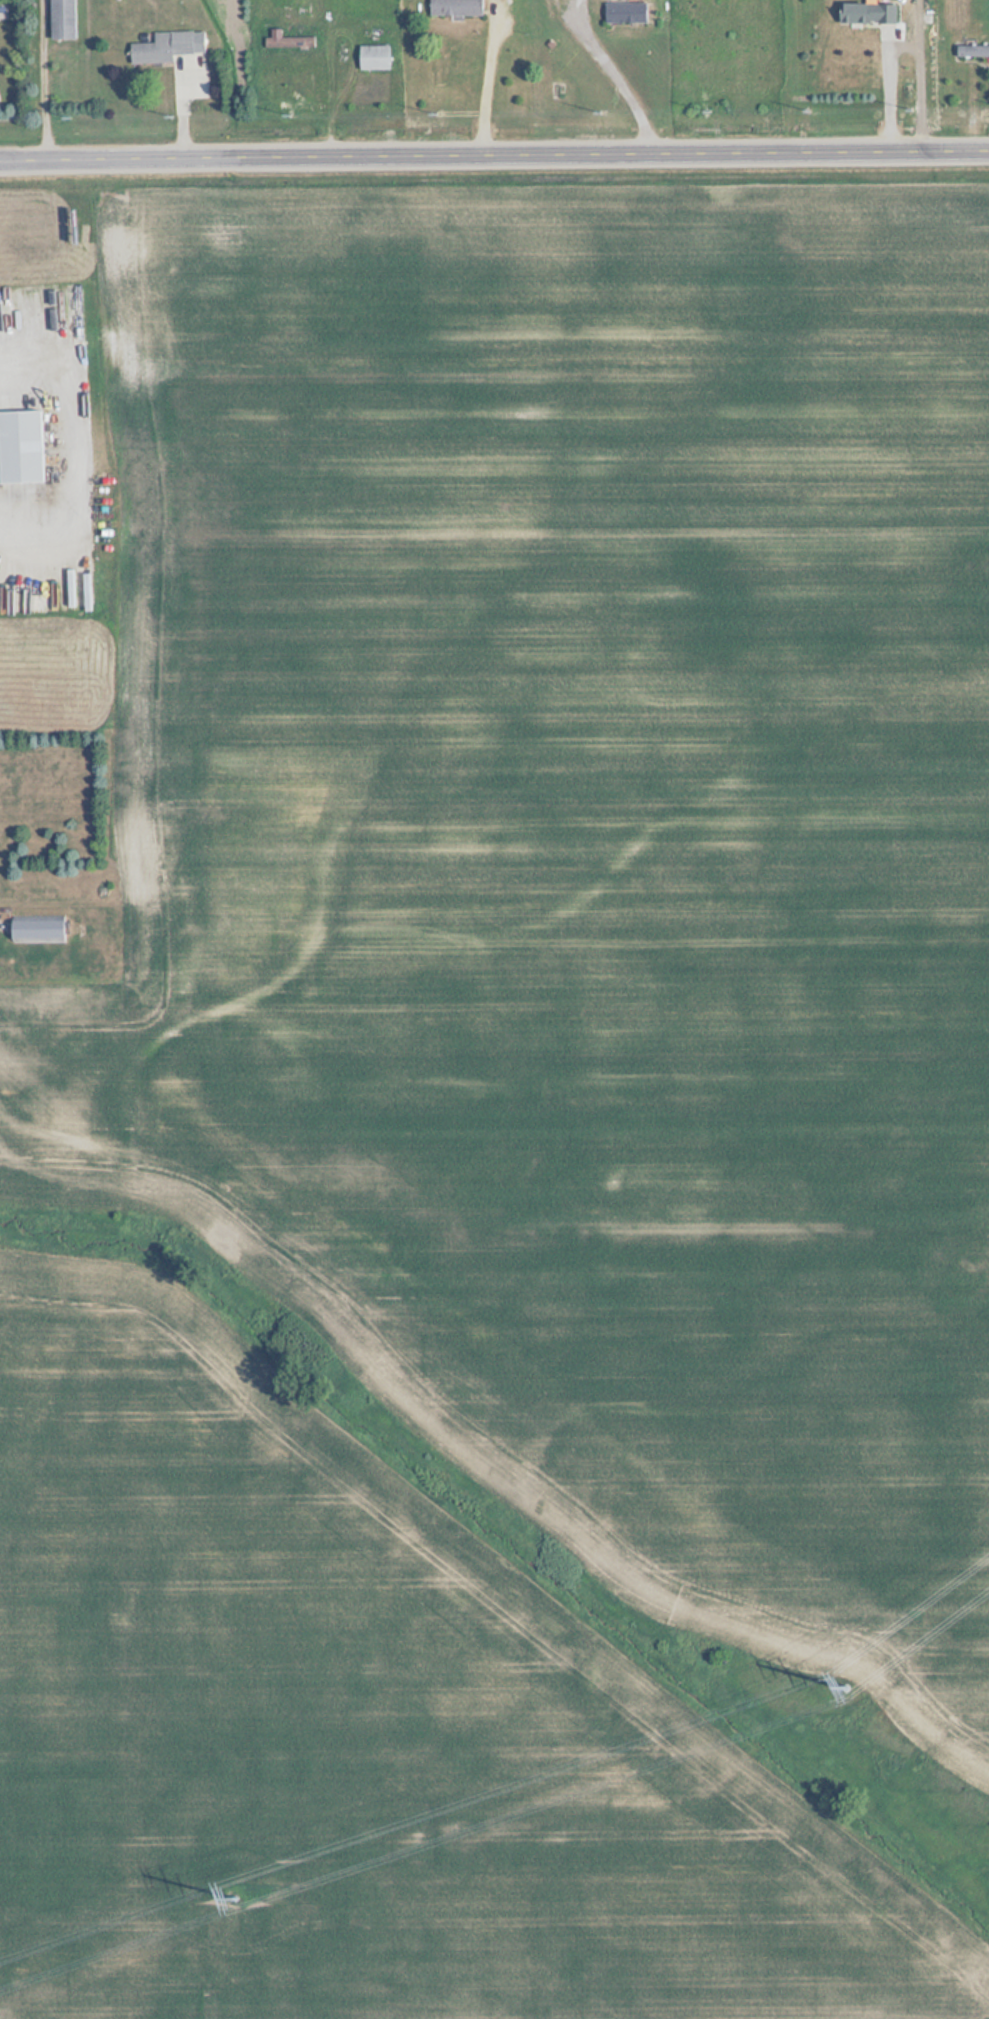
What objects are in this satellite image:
building: (455, 8)
building: (625, 13)
building: (867, 14)
building: (61, 20)
building: (288, 42)
building: (167, 48)
building: (972, 51)
building: (373, 58)
road: (493, 87)
road: (494, 152)
building: (20, 446)
building: (37, 929)
power tower: (848, 1690)
power tower: (245, 1903)

